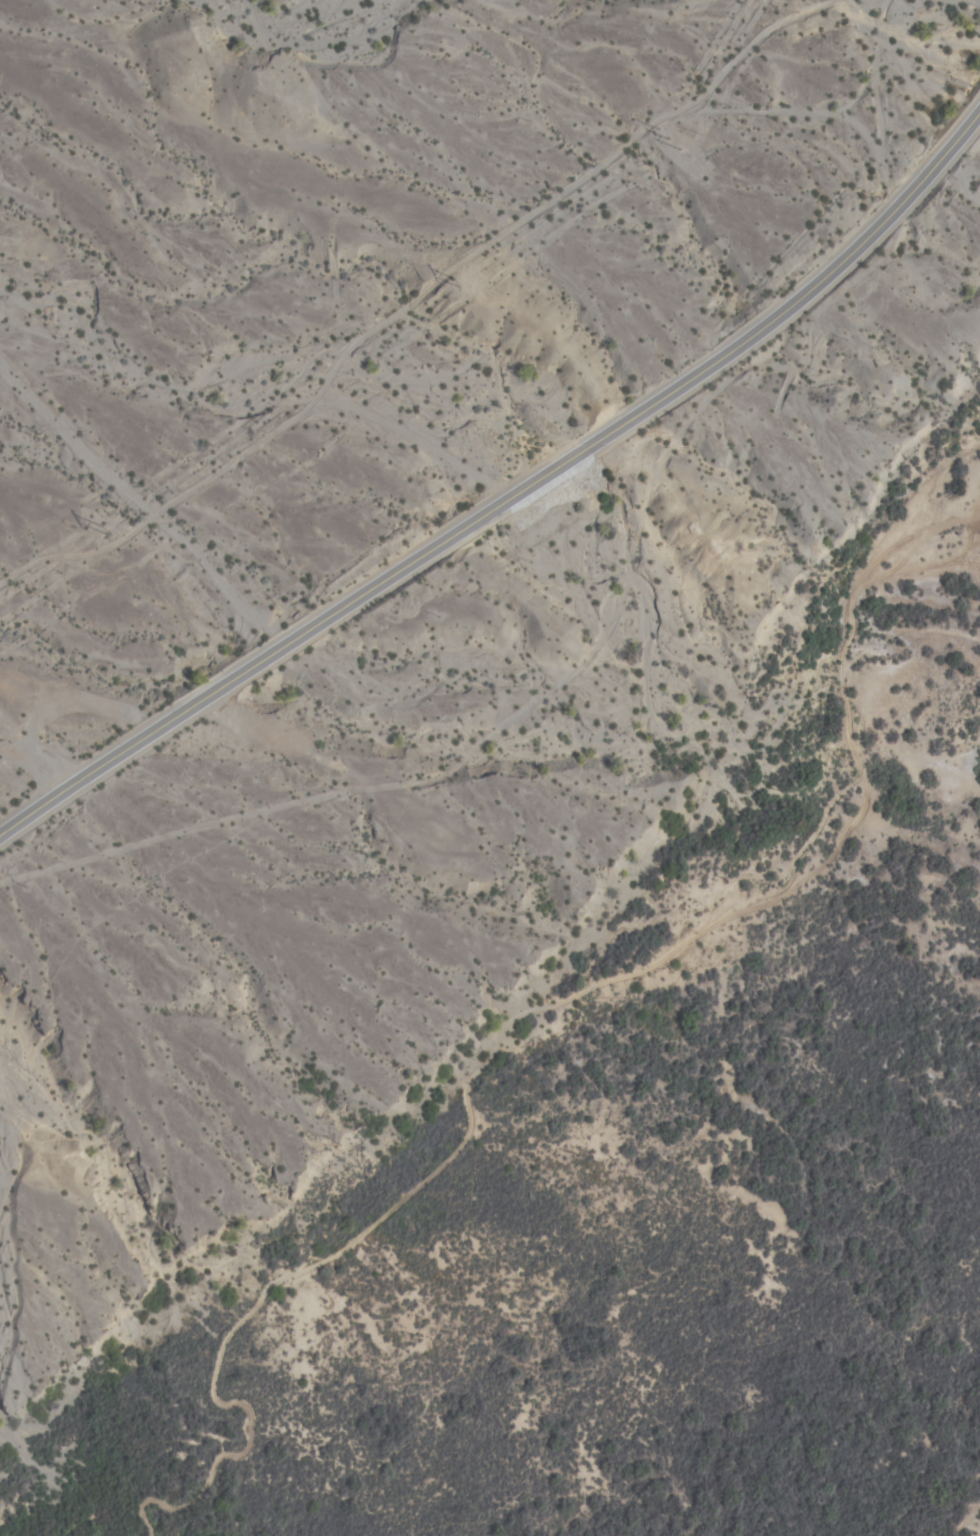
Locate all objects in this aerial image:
power tower: (668, 140)
power tower: (456, 283)
road: (510, 499)
power tower: (105, 530)

